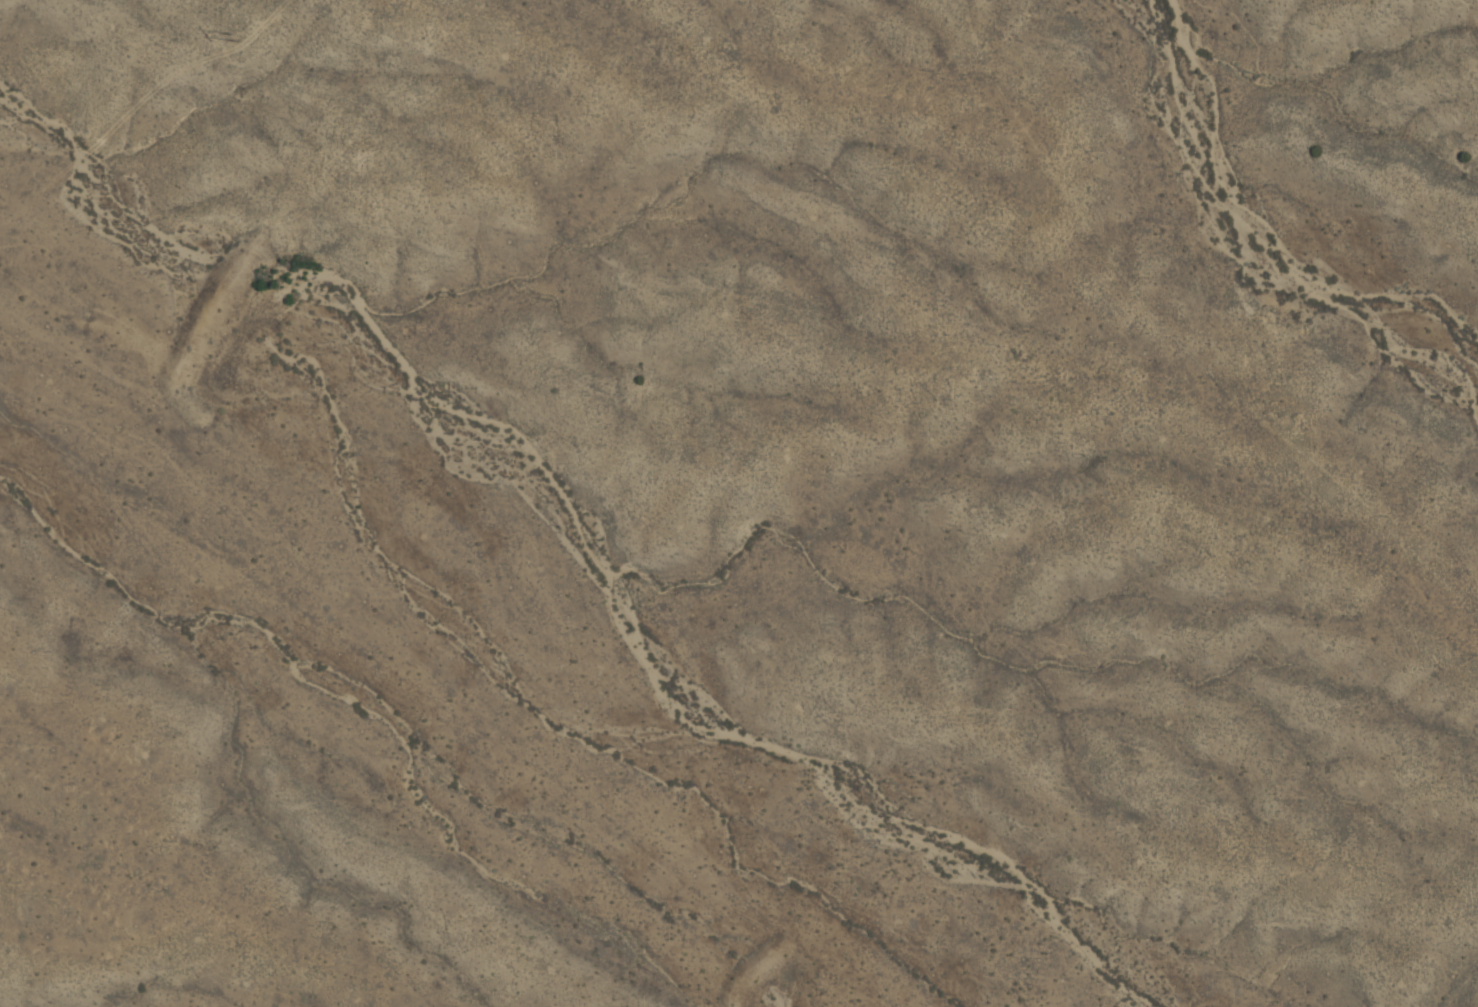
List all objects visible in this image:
power tower: (236, 38)

